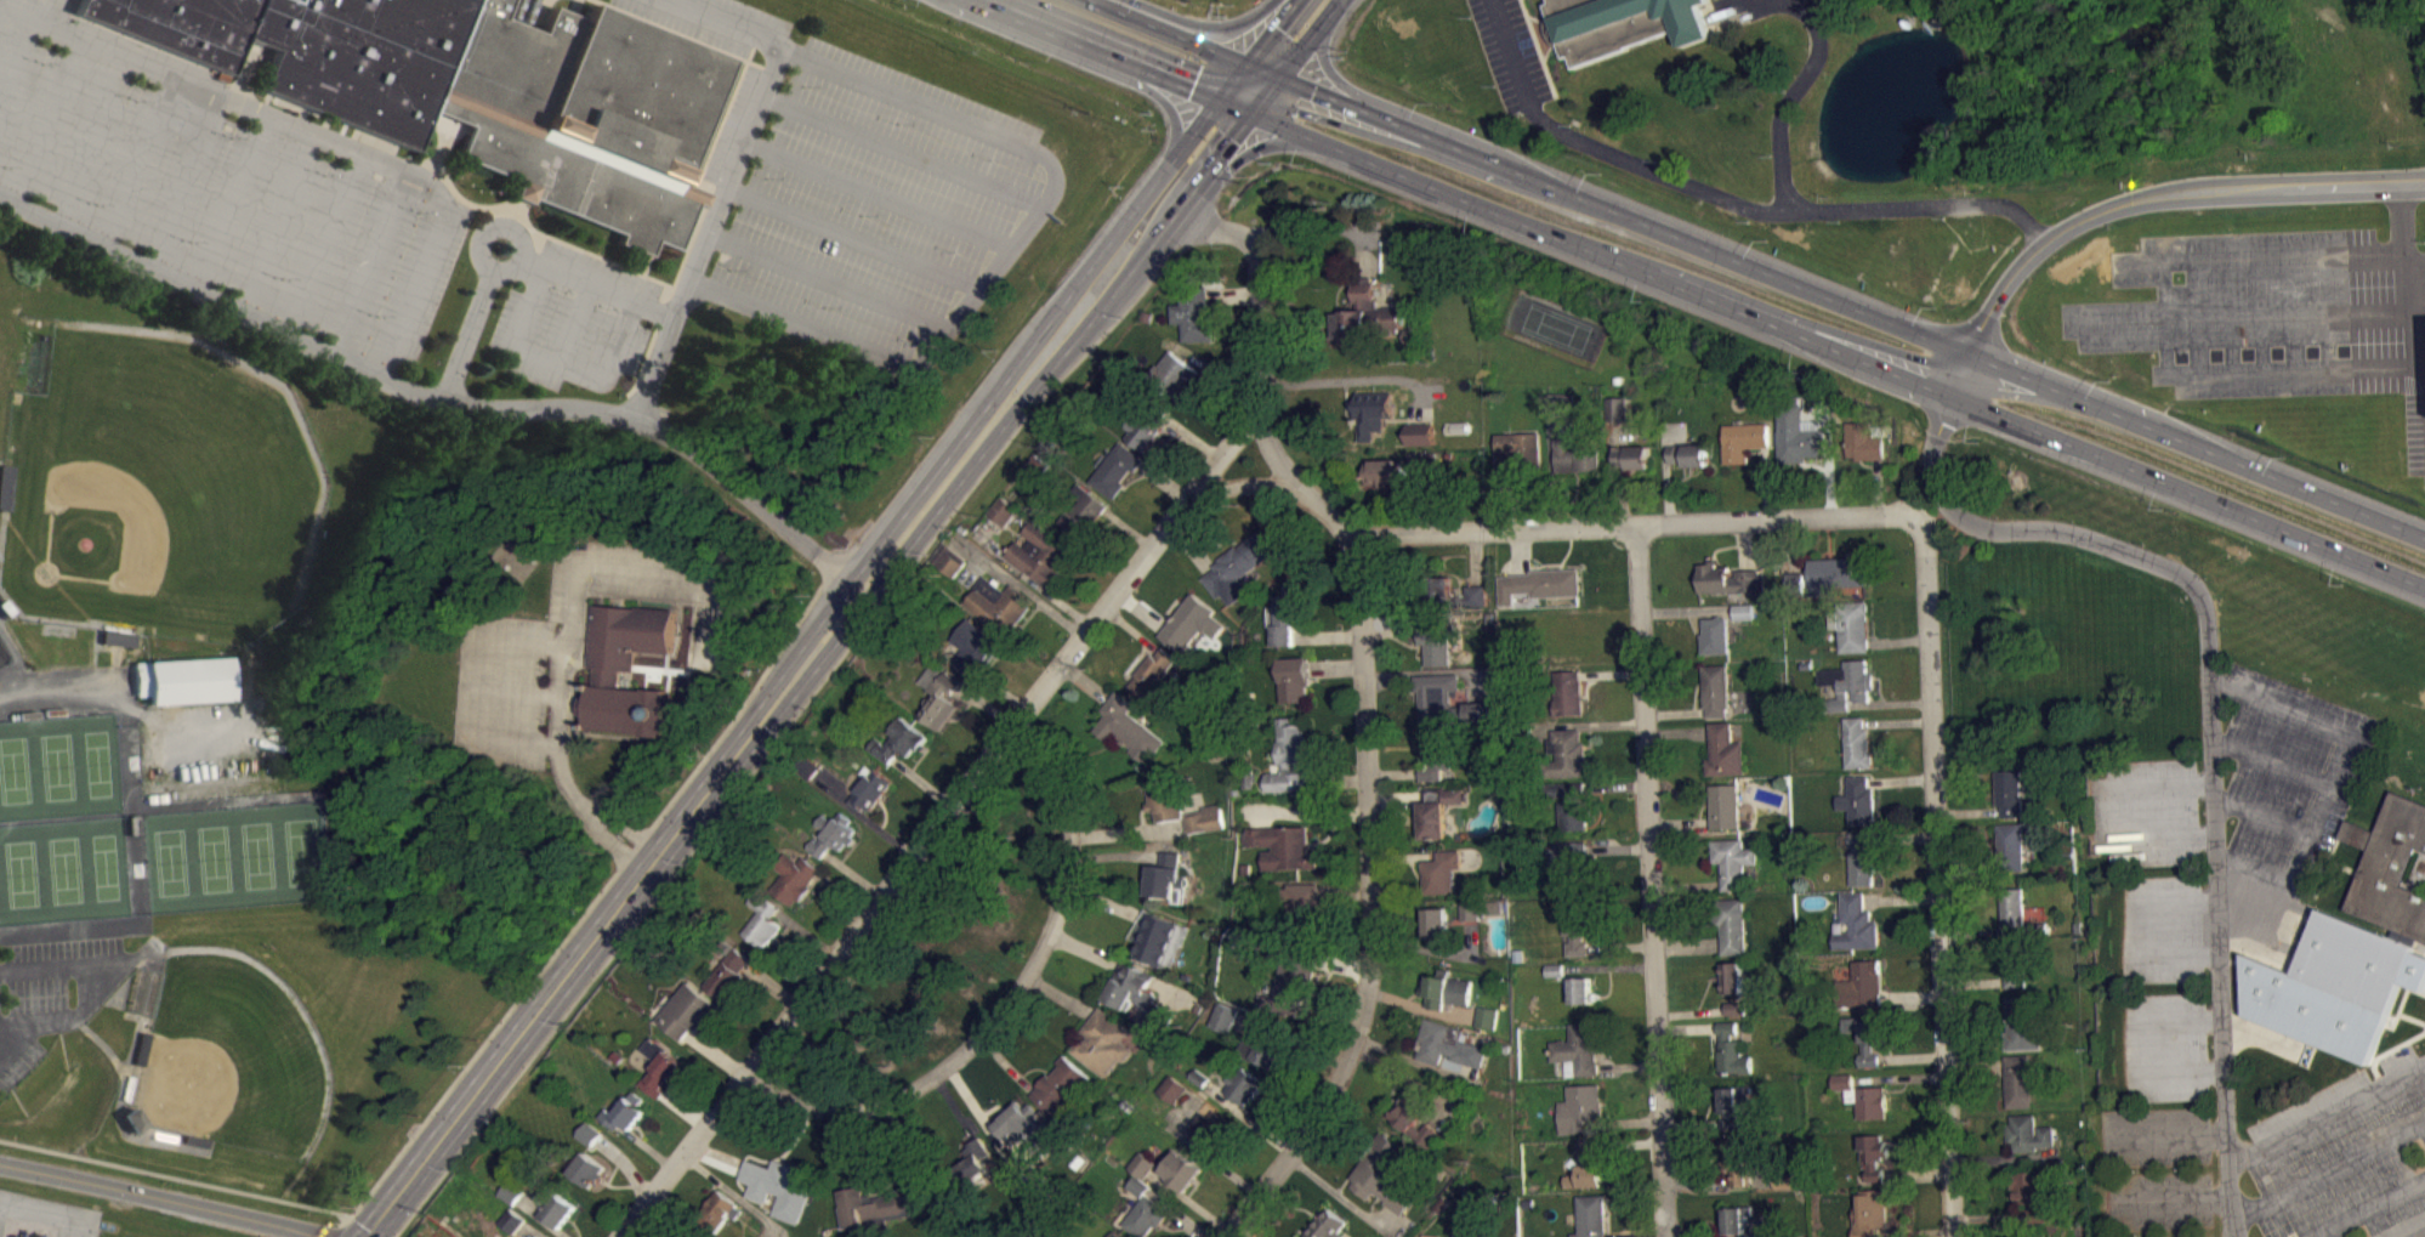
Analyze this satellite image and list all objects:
park: (1260, 0)
road: (46, 11)
traffic signals: (1276, 24)
building: (1623, 24)
road: (1205, 27)
road: (1166, 32)
road: (1270, 32)
road: (1307, 39)
road: (1090, 50)
road: (1325, 62)
road: (18, 64)
road: (1261, 70)
road: (1231, 81)
building: (478, 89)
traffic signals: (1191, 90)
traffic signals: (1312, 91)
road: (1157, 97)
road: (1789, 102)
road: (1243, 118)
road: (50, 119)
road: (313, 131)
traffic signals: (1229, 137)
road: (96, 138)
road: (1271, 144)
road: (904, 151)
road: (140, 158)
road: (734, 175)
road: (189, 180)
road: (1196, 183)
parking lot: (222, 189)
road: (2162, 194)
road: (879, 195)
road: (1725, 199)
road: (235, 200)
parking lot: (807, 215)
road: (280, 220)
road: (1319, 226)
road: (1157, 234)
road: (856, 236)
road: (1109, 239)
road: (328, 242)
road: (1013, 244)
road: (2398, 260)
road: (373, 262)
road: (2266, 263)
road: (830, 279)
road: (587, 284)
road: (1231, 294)
road: (1851, 303)
building: (1192, 313)
building: (1362, 314)
parking lot: (2270, 314)
road: (2241, 317)
road: (467, 324)
park: (1555, 327)
road: (1819, 342)
road: (536, 356)
road: (608, 363)
road: (2287, 367)
road: (1955, 370)
road: (1210, 371)
building: (1170, 374)
road: (1356, 379)
road: (431, 397)
building: (1557, 399)
building: (1615, 407)
building: (1370, 410)
building: (1145, 425)
building: (1419, 432)
building: (1796, 435)
road: (1189, 437)
building: (1743, 438)
building: (1863, 441)
road: (1270, 447)
building: (1518, 453)
building: (1687, 453)
building: (1575, 455)
road: (1611, 455)
building: (1631, 455)
road: (1828, 458)
building: (1035, 465)
building: (1398, 466)
building: (1114, 469)
road: (1550, 469)
road: (1666, 475)
road: (961, 477)
road: (927, 481)
road: (1162, 481)
road: (1765, 482)
park: (157, 483)
road: (1240, 486)
road: (1876, 486)
road: (1622, 494)
road: (1505, 501)
road: (1420, 504)
building: (1001, 509)
building: (1081, 510)
road: (1597, 524)
road: (1126, 528)
road: (1742, 544)
road: (1788, 544)
road: (1188, 546)
road: (1520, 550)
building: (1038, 552)
road: (1475, 557)
building: (948, 558)
building: (1236, 566)
road: (1023, 573)
building: (1824, 575)
building: (1727, 579)
building: (1539, 583)
road: (1020, 586)
building: (1437, 590)
building: (996, 603)
road: (1138, 609)
road: (1686, 609)
building: (1742, 611)
building: (1284, 614)
building: (1744, 618)
building: (1189, 622)
building: (1852, 625)
road: (1393, 626)
road: (1130, 629)
road: (813, 631)
building: (1714, 634)
road: (1327, 635)
building: (1437, 639)
road: (1897, 641)
building: (115, 645)
building: (972, 647)
track: (2, 652)
road: (563, 654)
road: (1335, 666)
road: (1432, 671)
building: (1151, 673)
road: (1611, 673)
building: (604, 676)
building: (1293, 677)
road: (1084, 681)
building: (1847, 682)
building: (181, 687)
building: (1714, 688)
road: (1001, 691)
building: (1568, 691)
building: (939, 699)
building: (1444, 700)
road: (1889, 702)
road: (986, 705)
road: (1674, 711)
road: (2205, 716)
road: (1898, 721)
road: (1015, 722)
road: (1586, 725)
building: (1126, 727)
building: (1520, 732)
road: (1676, 732)
building: (898, 739)
building: (1856, 742)
road: (2340, 744)
building: (1722, 750)
building: (1566, 753)
building: (1437, 755)
building: (1288, 757)
road: (2267, 757)
park: (95, 762)
park: (55, 765)
building: (807, 766)
park: (12, 768)
road: (1392, 773)
parking lot: (2288, 773)
building: (1246, 777)
road: (1901, 778)
road: (1335, 779)
road: (922, 783)
road: (1615, 784)
building: (870, 789)
building: (1287, 789)
building: (2010, 791)
road: (1405, 795)
building: (1163, 798)
building: (1858, 799)
building: (1569, 802)
building: (1723, 805)
parking lot: (2145, 810)
road: (1967, 811)
road: (2111, 811)
road: (1305, 813)
building: (1436, 813)
road: (2260, 813)
road: (863, 815)
building: (1203, 817)
road: (1257, 817)
road: (1679, 823)
road: (1128, 832)
building: (833, 833)
road: (1902, 836)
building: (1282, 845)
building: (2010, 845)
road: (1618, 846)
park: (301, 850)
park: (257, 852)
road: (1121, 853)
road: (1403, 856)
park: (212, 857)
building: (1861, 858)
park: (169, 861)
building: (1732, 861)
road: (1969, 864)
park: (103, 866)
building: (1567, 866)
park: (62, 869)
building: (1441, 872)
park: (18, 873)
road: (853, 874)
building: (794, 876)
road: (1938, 878)
road: (1649, 880)
building: (1164, 881)
road: (1686, 884)
road: (2259, 886)
road: (841, 893)
road: (1344, 897)
road: (1902, 898)
road: (1103, 901)
building: (1301, 903)
road: (1370, 903)
building: (2011, 906)
building: (1481, 908)
building: (1477, 917)
building: (762, 919)
building: (1730, 923)
building: (1856, 923)
building: (1437, 924)
building: (1577, 925)
building: (2037, 926)
parking lot: (2158, 927)
road: (1983, 930)
road: (2134, 930)
road: (805, 934)
building: (1154, 936)
road: (1687, 944)
road: (1620, 946)
building: (2353, 946)
road: (1085, 948)
road: (1436, 951)
road: (574, 961)
road: (1341, 964)
building: (2014, 964)
road: (1608, 966)
building: (1554, 968)
building: (727, 971)
building: (1731, 976)
building: (1291, 978)
road: (1973, 981)
road: (771, 985)
building: (1861, 985)
building: (1446, 989)
building: (1580, 989)
building: (1137, 993)
road: (1060, 994)
road: (1912, 997)
road: (1005, 1004)
building: (1733, 1006)
road: (1420, 1008)
building: (687, 1009)
road: (1689, 1011)
building: (1736, 1015)
building: (1223, 1016)
building: (1487, 1016)
building: (2022, 1023)
road: (1687, 1027)
building: (1865, 1035)
road: (1290, 1038)
building: (1102, 1042)
building: (1448, 1043)
road: (1975, 1043)
parking lot: (2164, 1044)
building: (1578, 1048)
road: (2134, 1048)
building: (1262, 1049)
building: (1731, 1049)
road: (715, 1052)
park: (232, 1055)
road: (1910, 1056)
road: (1415, 1060)
road: (1006, 1062)
road: (1975, 1062)
building: (658, 1066)
road: (1628, 1066)
building: (1198, 1077)
road: (1407, 1077)
road: (1898, 1077)
building: (2017, 1079)
building: (1841, 1080)
building: (1057, 1084)
building: (1243, 1084)
building: (1171, 1088)
building: (1870, 1101)
building: (1732, 1102)
road: (953, 1106)
building: (1579, 1106)
road: (683, 1107)
building: (623, 1113)
road: (2325, 1114)
road: (1248, 1116)
road: (1442, 1116)
building: (1414, 1119)
road: (1622, 1122)
road: (1691, 1123)
road: (986, 1124)
building: (1022, 1128)
building: (1210, 1129)
building: (586, 1133)
building: (2028, 1133)
road: (2166, 1133)
parking lot: (2154, 1134)
road: (914, 1144)
road: (1628, 1144)
road: (643, 1146)
road: (1205, 1153)
building: (1873, 1154)
road: (1022, 1156)
building: (1737, 1156)
parking lot: (2346, 1157)
road: (715, 1158)
road: (2001, 1158)
building: (971, 1163)
building: (1142, 1164)
road: (624, 1165)
building: (1585, 1167)
building: (586, 1169)
building: (1179, 1169)
building: (1381, 1173)
road: (1916, 1173)
road: (2328, 1173)
road: (186, 1179)
building: (1784, 1179)
road: (1696, 1180)
building: (1137, 1185)
building: (777, 1186)
building: (511, 1191)
building: (1040, 1192)
road: (732, 1193)
road: (1338, 1195)
building: (2034, 1196)
road: (159, 1198)
road: (2170, 1198)
building: (511, 1199)
parking lot: (2157, 1199)
road: (1189, 1202)
building: (555, 1205)
building: (876, 1205)
building: (1478, 1205)
road: (2369, 1208)
building: (717, 1209)
road: (1177, 1210)
building: (1870, 1212)
building: (1590, 1215)
road: (666, 1216)
building: (1146, 1216)
road: (1990, 1216)
building: (1737, 1218)
road: (540, 1219)
building: (512, 1220)
road: (403, 1224)
building: (1325, 1225)
road: (1472, 1226)
road: (339, 1229)
road: (352, 1229)
road: (528, 1232)
building: (1770, 1232)
road: (1914, 1232)
building: (689, 1235)
building: (1115, 1235)
road: (1228, 1235)
road: (1233, 1235)
building: (1430, 1235)
building: (753, 1236)
road: (1649, 1236)
road: (1753, 1236)
parking lot: (2186, 1236)

